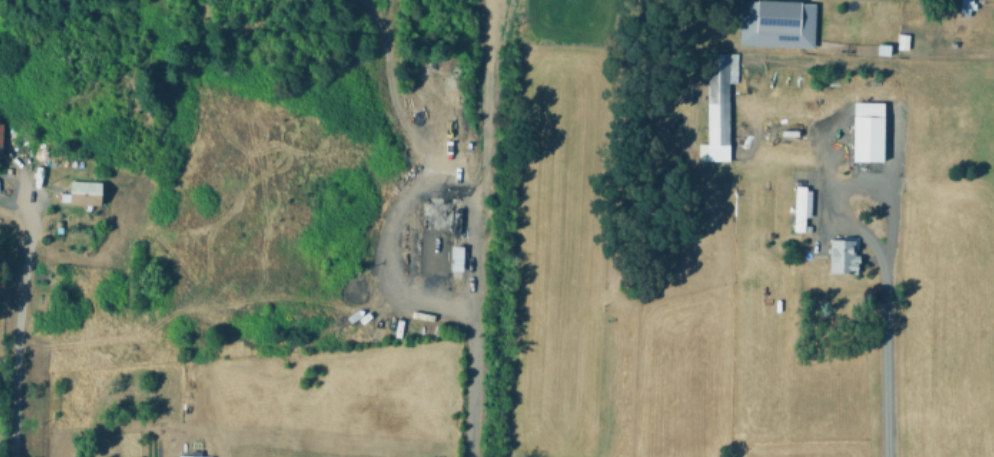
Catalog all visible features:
building: (965, 11)
building: (780, 15)
building: (904, 44)
building: (886, 48)
building: (721, 97)
building: (871, 129)
building: (1, 136)
road: (409, 190)
building: (86, 193)
building: (803, 205)
road: (843, 210)
building: (438, 239)
building: (844, 256)
road: (892, 284)
road: (20, 291)
road: (9, 296)
road: (473, 389)
building: (192, 456)

